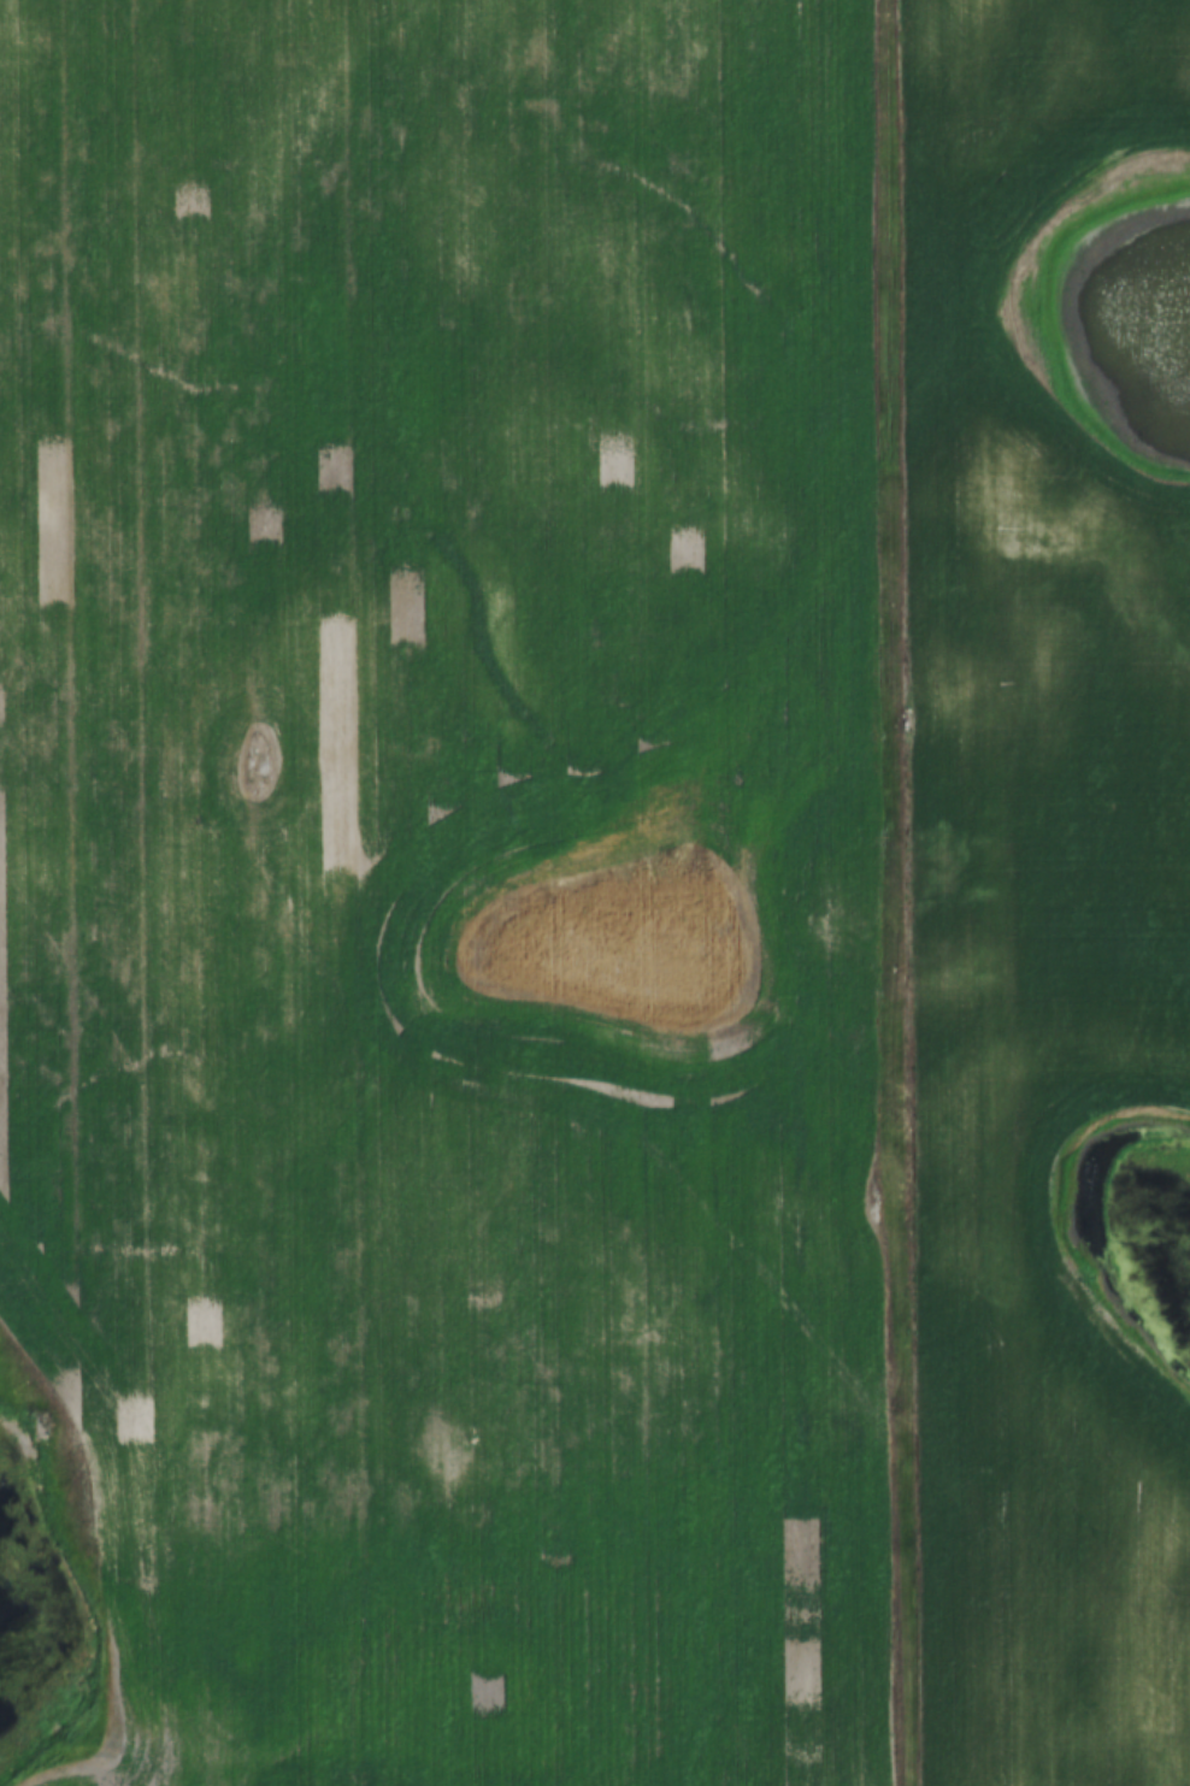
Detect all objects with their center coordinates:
road: (911, 892)

